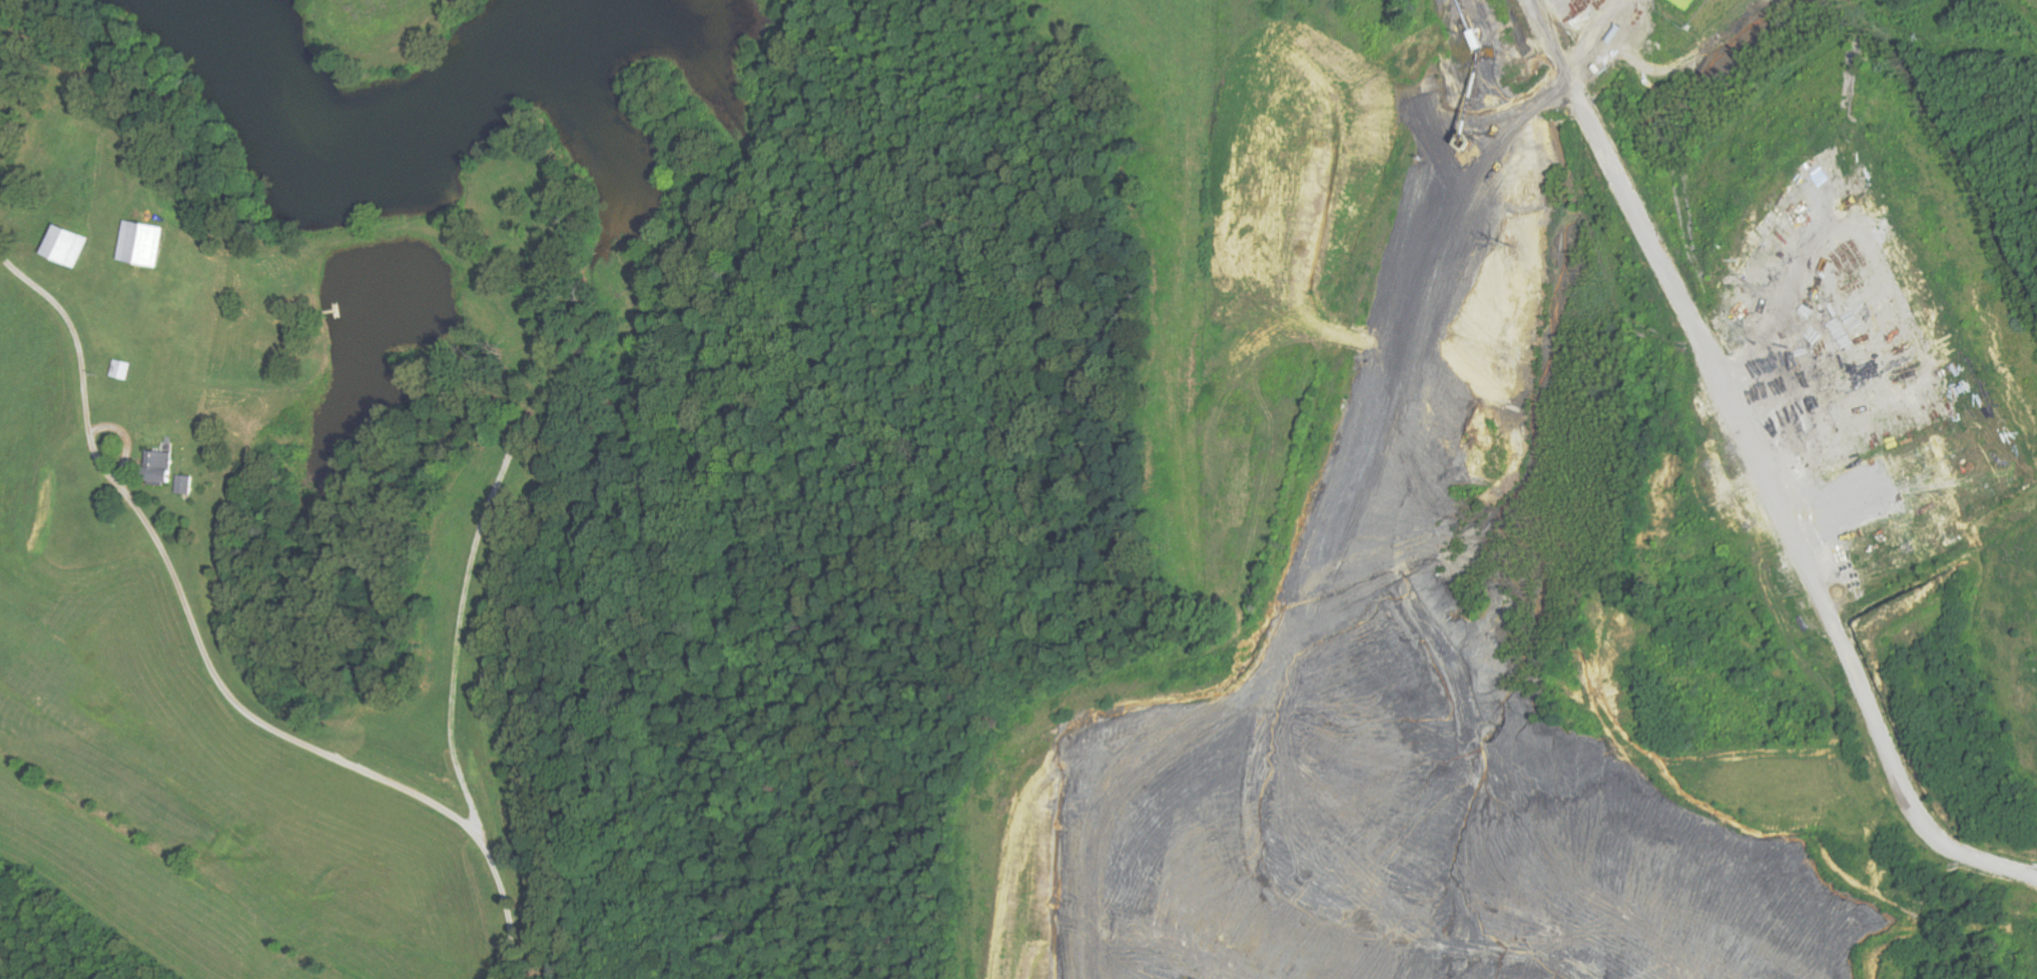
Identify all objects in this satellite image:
building: (145, 244)
building: (68, 246)
building: (124, 370)
building: (163, 468)
building: (189, 485)
road: (211, 665)

